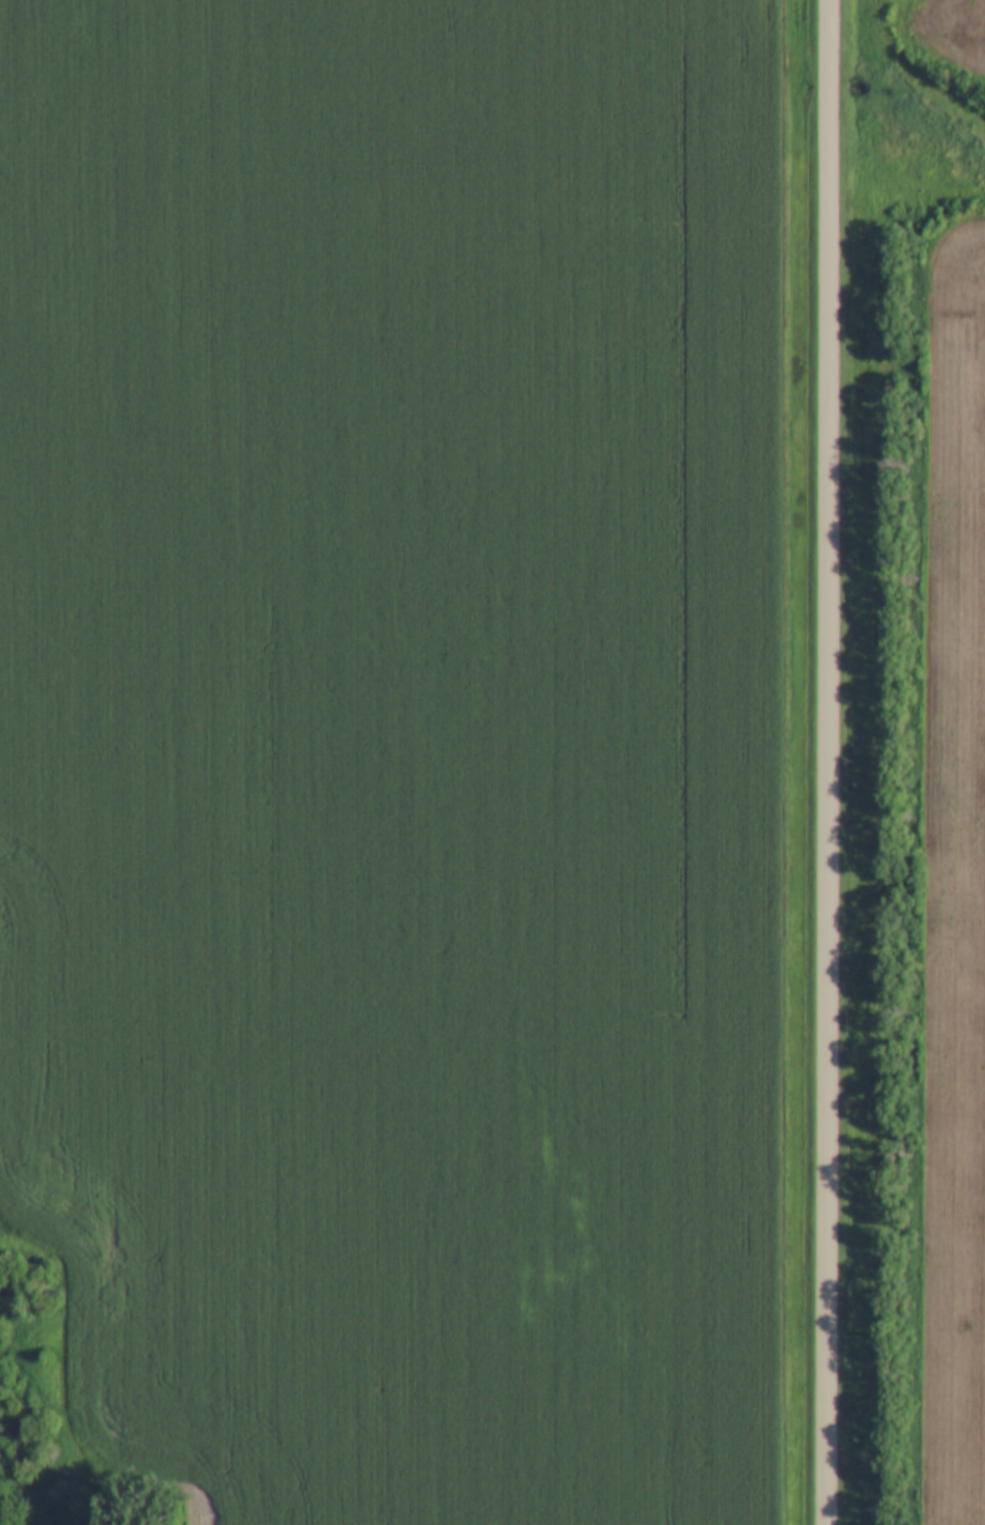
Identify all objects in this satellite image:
road: (827, 762)

